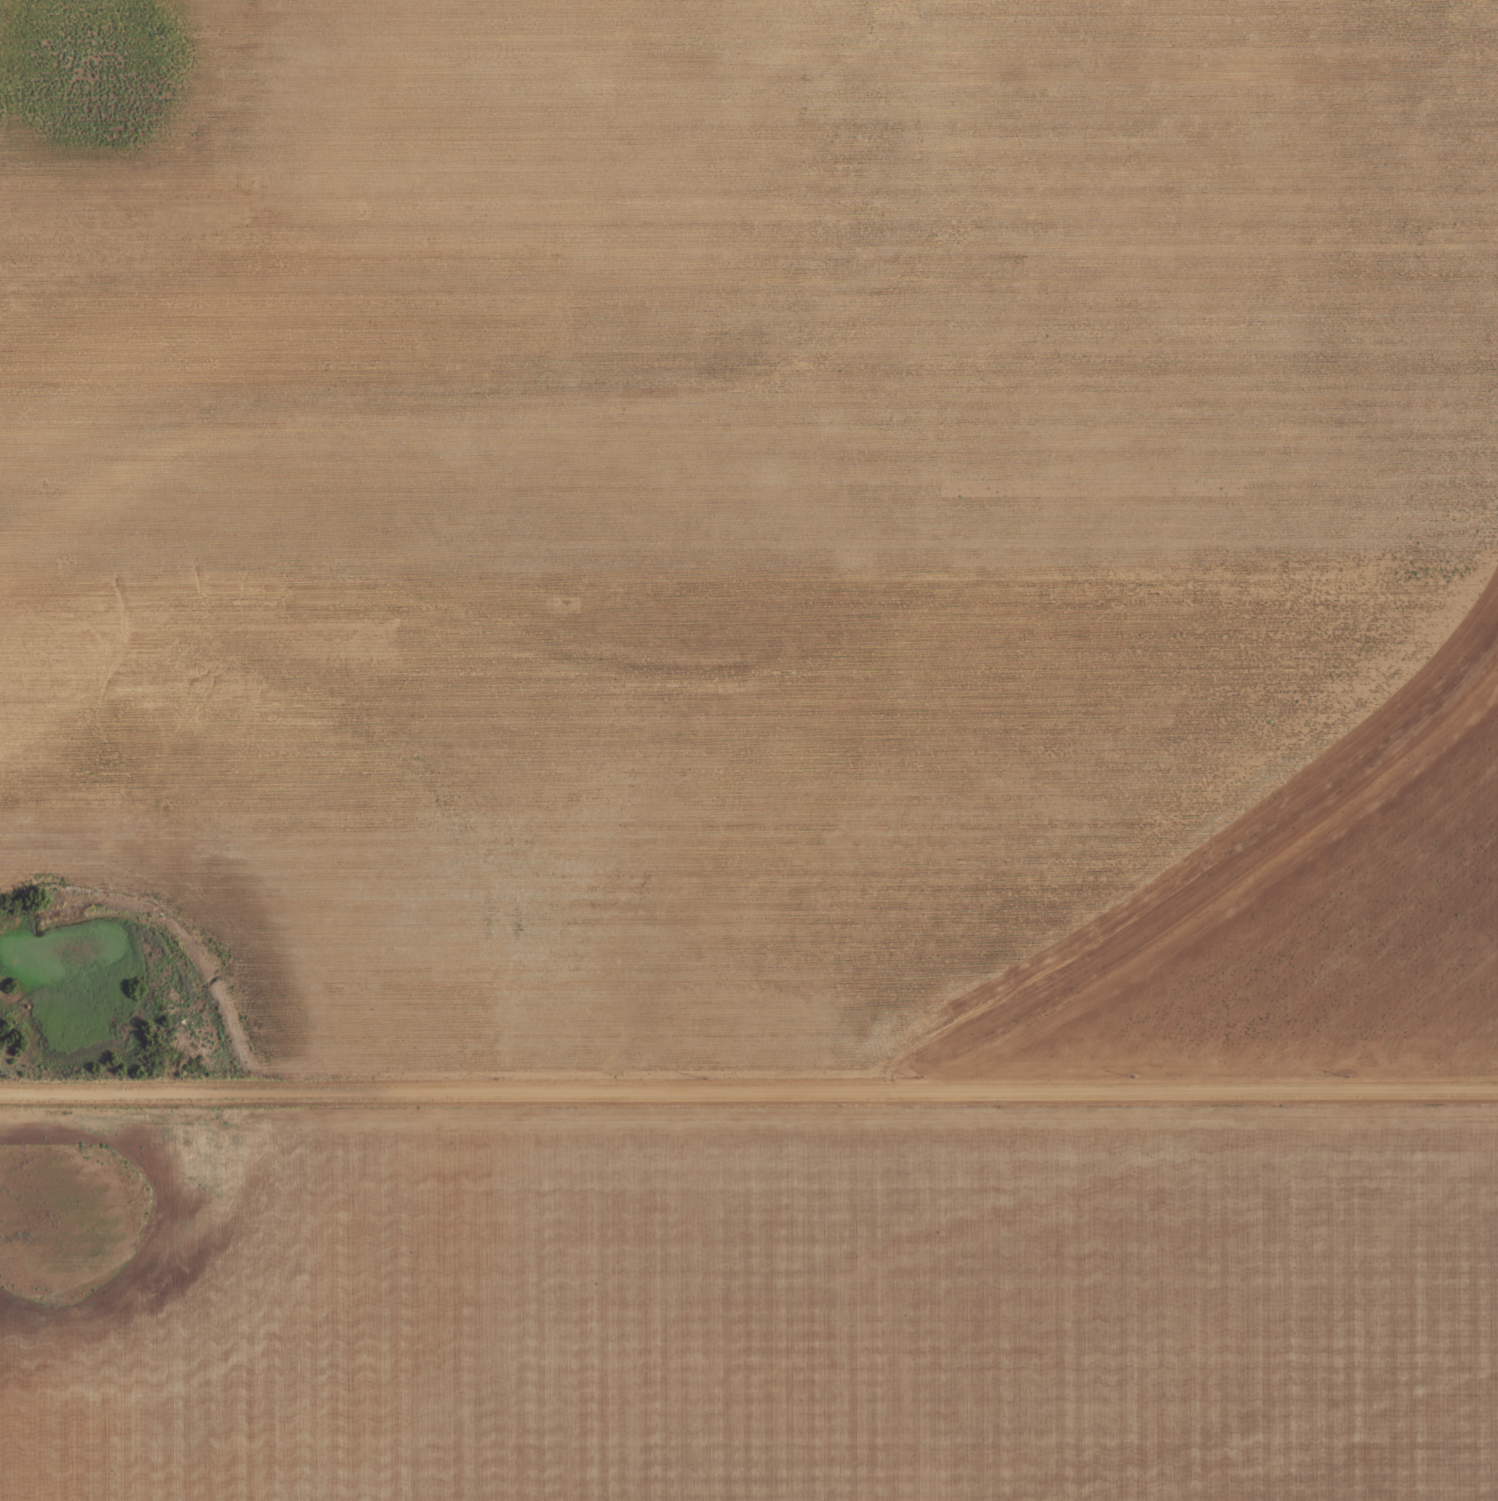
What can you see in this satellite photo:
road: (749, 1089)

